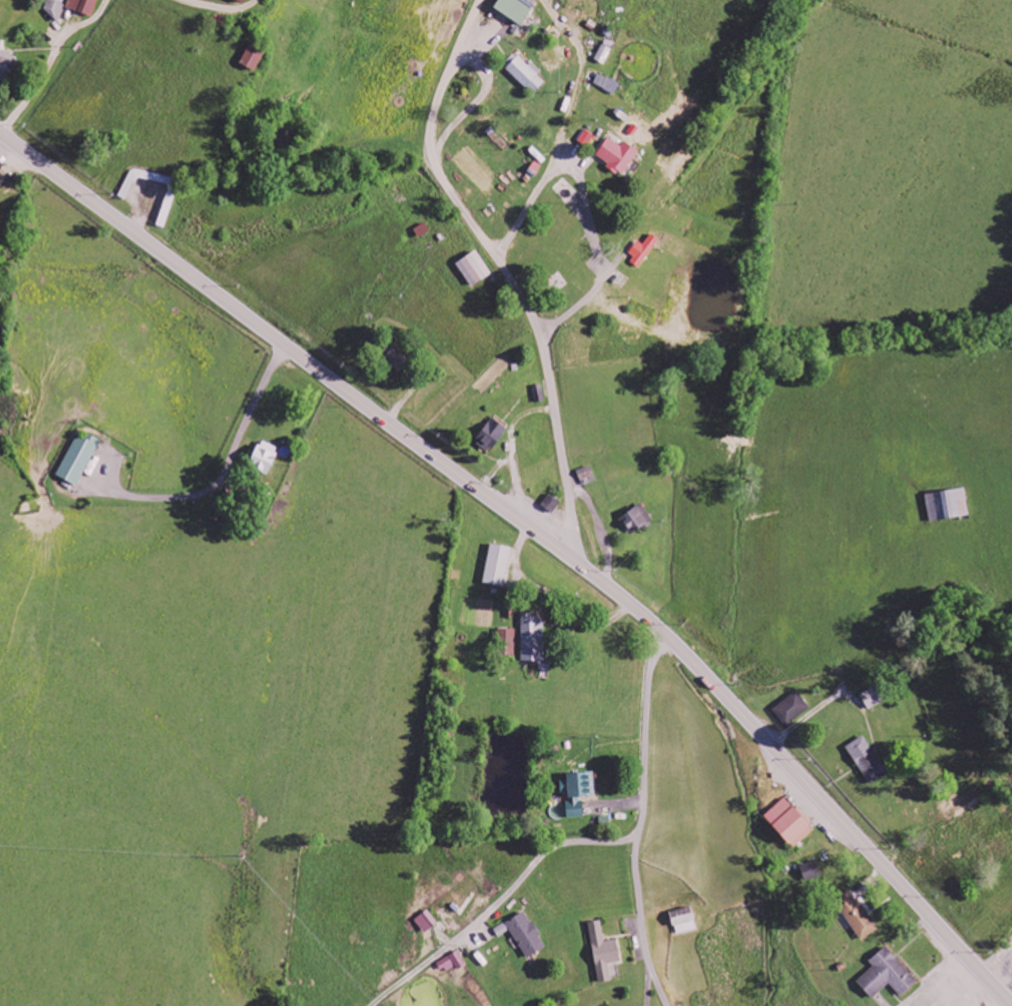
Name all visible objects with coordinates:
building: (61, 1)
building: (243, 1)
building: (84, 6)
building: (54, 9)
building: (517, 9)
building: (606, 51)
building: (254, 57)
building: (6, 66)
building: (527, 75)
building: (607, 84)
building: (587, 138)
building: (618, 155)
building: (2, 180)
building: (423, 230)
road: (134, 231)
building: (644, 250)
building: (475, 268)
road: (505, 273)
building: (397, 358)
building: (539, 394)
road: (698, 416)
building: (492, 435)
building: (265, 457)
building: (79, 458)
building: (588, 476)
building: (552, 503)
building: (949, 505)
building: (637, 520)
building: (499, 565)
road: (668, 636)
building: (534, 638)
building: (509, 643)
building: (875, 697)
building: (793, 709)
building: (868, 760)
building: (580, 792)
road: (641, 819)
building: (790, 823)
building: (811, 872)
road: (500, 903)
building: (685, 921)
building: (524, 934)
building: (605, 952)
building: (452, 964)
building: (888, 975)

